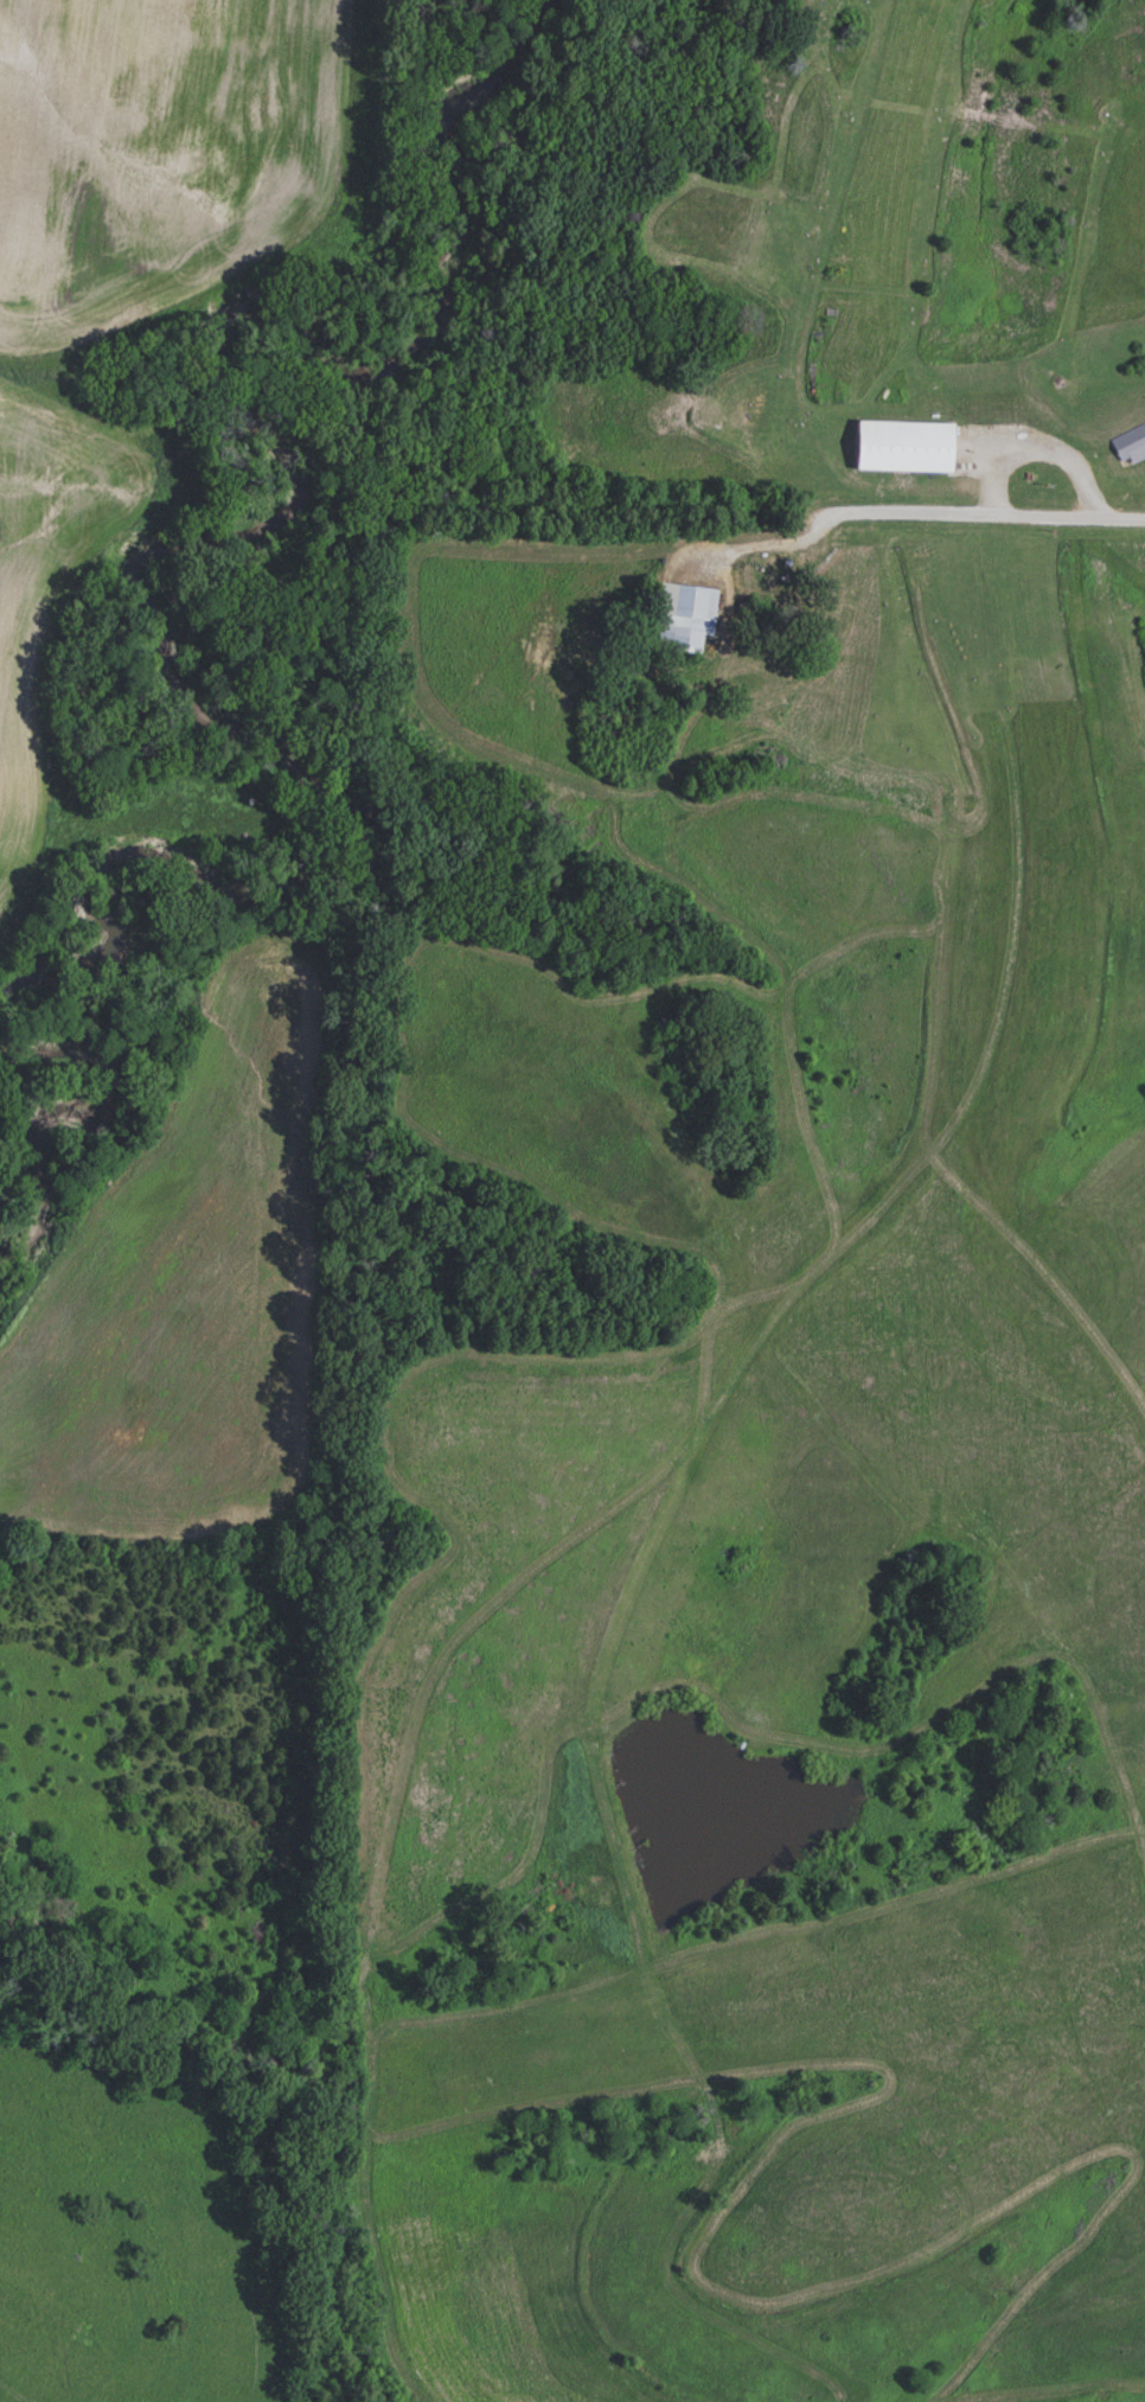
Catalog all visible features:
building: (1131, 442)
building: (910, 443)
road: (991, 515)
building: (687, 615)

